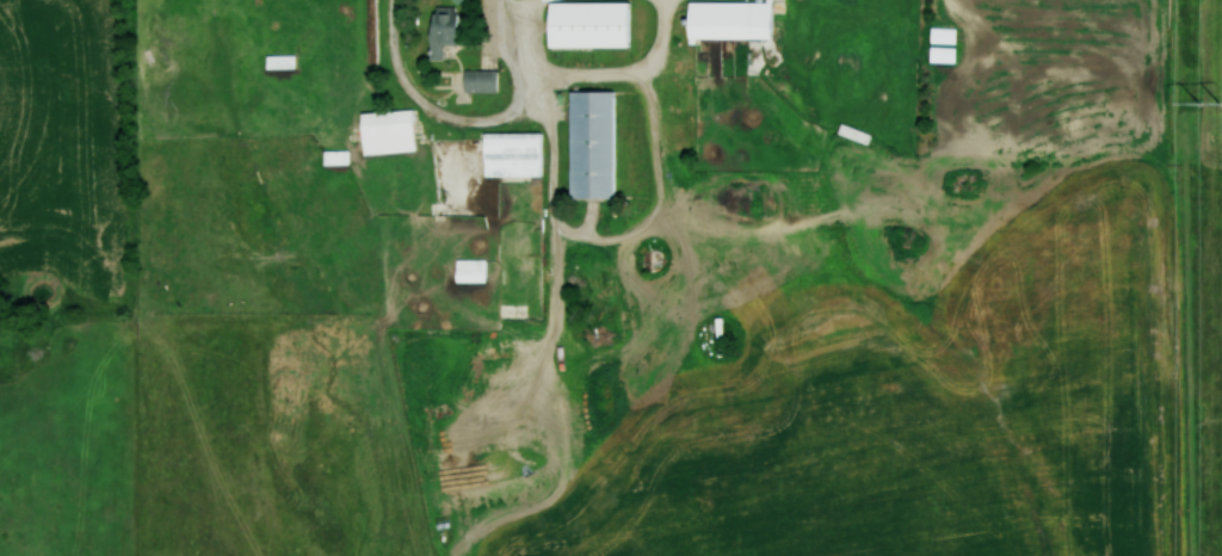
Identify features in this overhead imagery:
building: (722, 18)
building: (592, 23)
building: (449, 31)
building: (938, 43)
building: (285, 61)
building: (487, 80)
power tower: (1212, 107)
building: (394, 130)
building: (599, 143)
building: (518, 153)
building: (715, 336)

